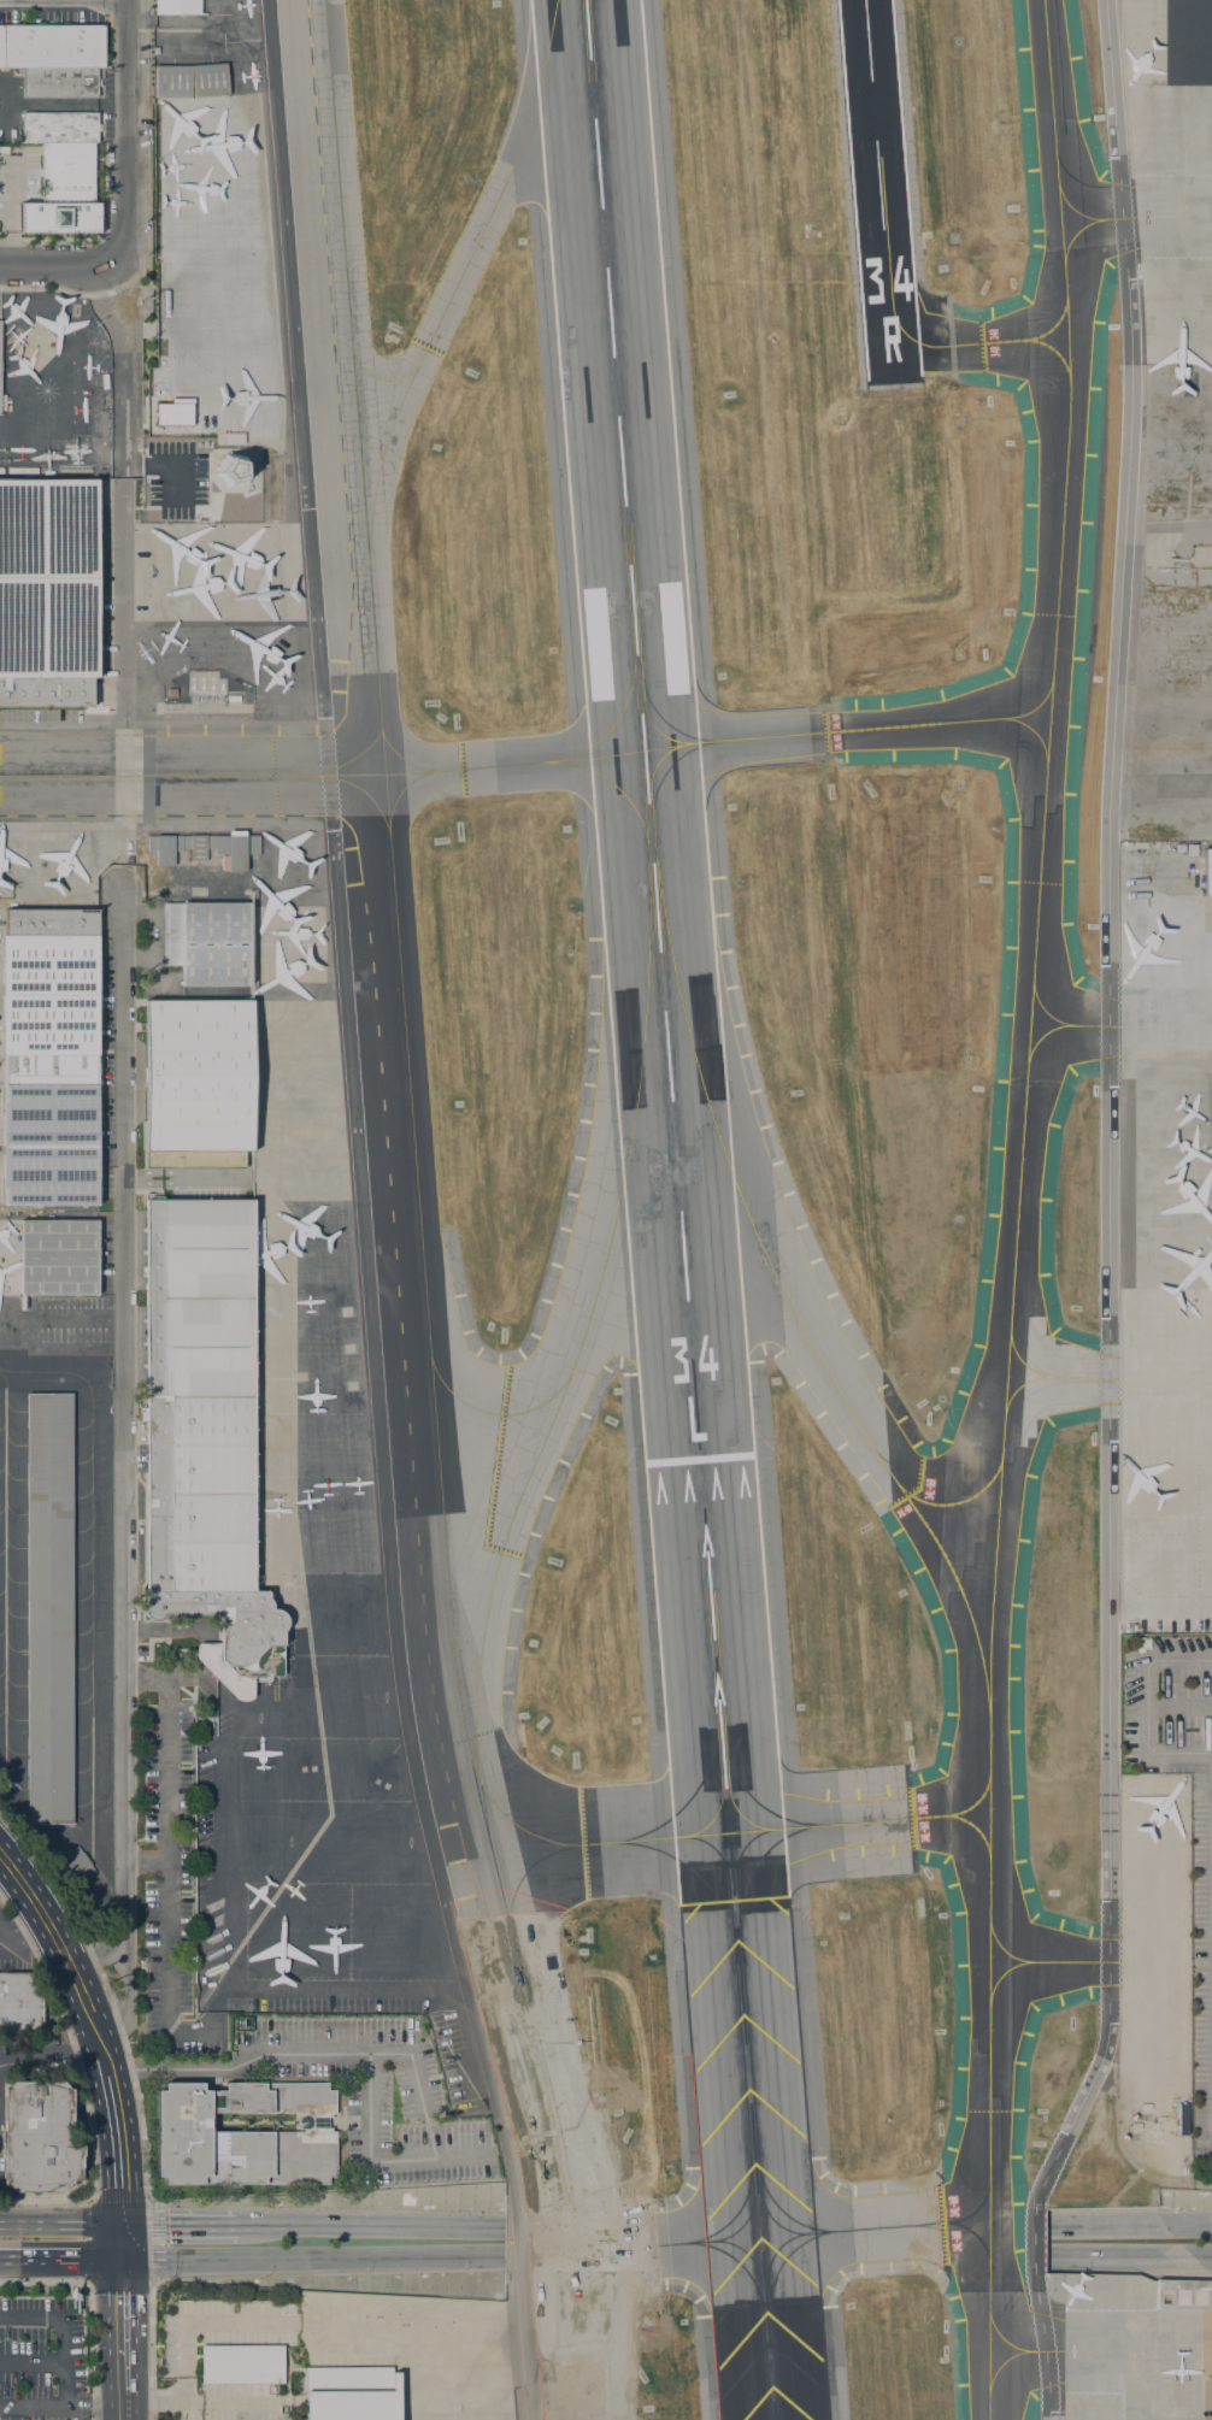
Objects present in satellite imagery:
road: (63, 1)
building: (177, 7)
building: (52, 45)
building: (208, 80)
building: (171, 81)
building: (59, 83)
road: (63, 105)
building: (60, 128)
road: (125, 134)
airport runway: (881, 190)
building: (64, 193)
road: (8, 210)
airport taxiway: (1093, 219)
road: (104, 228)
road: (54, 269)
airport taxiway: (457, 282)
road: (70, 292)
airport taxiway: (1043, 314)
airport taxiway: (981, 341)
building: (0, 345)
airport taxiway: (378, 379)
building: (1, 404)
building: (175, 412)
building: (233, 437)
building: (233, 470)
building: (48, 591)
building: (170, 693)
airport taxiway: (654, 711)
airport taxiway: (618, 717)
airport taxiway: (861, 729)
airport taxiway: (1030, 738)
airport taxiway: (351, 755)
airport taxiway: (400, 755)
airport taxiway: (513, 764)
airport taxiway: (192, 775)
airport taxiway: (658, 783)
airport taxiway: (616, 787)
airport taxiway: (401, 790)
airport taxiway: (361, 793)
building: (152, 843)
building: (198, 846)
building: (1179, 848)
building: (167, 849)
building: (236, 849)
building: (1190, 850)
airport hangar: (1207, 872)
building: (1207, 872)
building: (208, 942)
airport taxiway: (1101, 1028)
airport taxiway: (1046, 1049)
building: (49, 1056)
building: (199, 1083)
airport: (633, 1161)
airport taxiway: (1018, 1208)
airport runway: (678, 1209)
road: (361, 1215)
airport taxiway: (414, 1215)
road: (1110, 1217)
building: (58, 1258)
airport taxiway: (796, 1321)
airport taxiway: (1058, 1378)
airport taxiway: (564, 1388)
airport taxiway: (496, 1415)
building: (204, 1436)
road: (120, 1467)
airport taxiway: (951, 1474)
building: (49, 1607)
road: (170, 1627)
road: (206, 1656)
road: (205, 1671)
road: (163, 1676)
road: (210, 1680)
road: (1181, 1701)
road: (1149, 1704)
airport taxiway: (696, 1786)
airport taxiway: (745, 1795)
airport taxiway: (1005, 1797)
airport taxiway: (1054, 1814)
airport taxiway: (937, 1818)
airport taxiway: (507, 1823)
airport taxiway: (858, 1825)
airport taxiway: (1005, 1832)
airport taxiway: (592, 1845)
road: (145, 1859)
building: (77, 1866)
airport taxiway: (753, 1867)
road: (22, 1883)
road: (166, 1885)
airport taxiway: (705, 1892)
road: (7, 1920)
road: (29, 1921)
road: (7, 1930)
road: (70, 1968)
parking lot: (1201, 1974)
road: (107, 1996)
building: (19, 2002)
road: (95, 2035)
road: (288, 2045)
road: (48, 2050)
road: (102, 2056)
road: (112, 2107)
building: (246, 2136)
building: (39, 2138)
road: (369, 2161)
road: (118, 2183)
airport taxiway: (765, 2196)
airport taxiway: (745, 2197)
road: (46, 2200)
road: (324, 2207)
road: (1129, 2208)
road: (59, 2224)
traffic signals: (119, 2224)
road: (178, 2224)
road: (1129, 2225)
road: (370, 2226)
road: (152, 2228)
airport taxiway: (895, 2228)
airport taxiway: (594, 2230)
road: (119, 2241)
airport taxiway: (966, 2247)
airport taxiway: (647, 2248)
road: (1129, 2255)
road: (60, 2257)
traffic signals: (120, 2257)
road: (311, 2257)
airport taxiway: (778, 2267)
airport taxiway: (742, 2268)
road: (1129, 2269)
road: (326, 2273)
road: (45, 2281)
building: (1183, 2295)
airport taxiway: (1022, 2328)
road: (61, 2334)
road: (120, 2338)
road: (1163, 2349)
airport taxiway: (1026, 2353)
parking lot: (40, 2357)
building: (242, 2363)
airport taxiway: (1019, 2377)
building: (352, 2393)
building: (1207, 2395)
road: (60, 2409)

